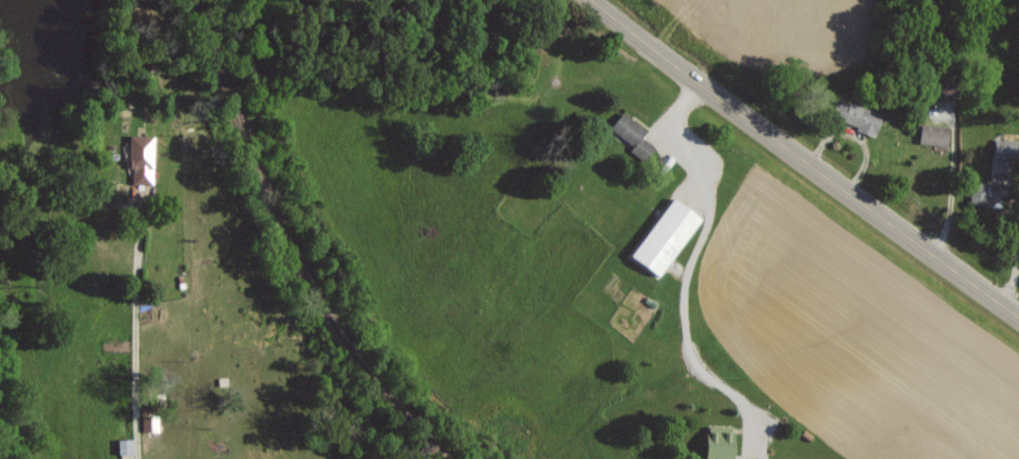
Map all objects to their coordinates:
crop: (782, 33)
building: (861, 116)
building: (635, 135)
building: (936, 135)
building: (144, 159)
road: (805, 160)
building: (998, 173)
building: (669, 236)
railway: (296, 247)
building: (151, 423)
building: (722, 442)
building: (127, 446)

